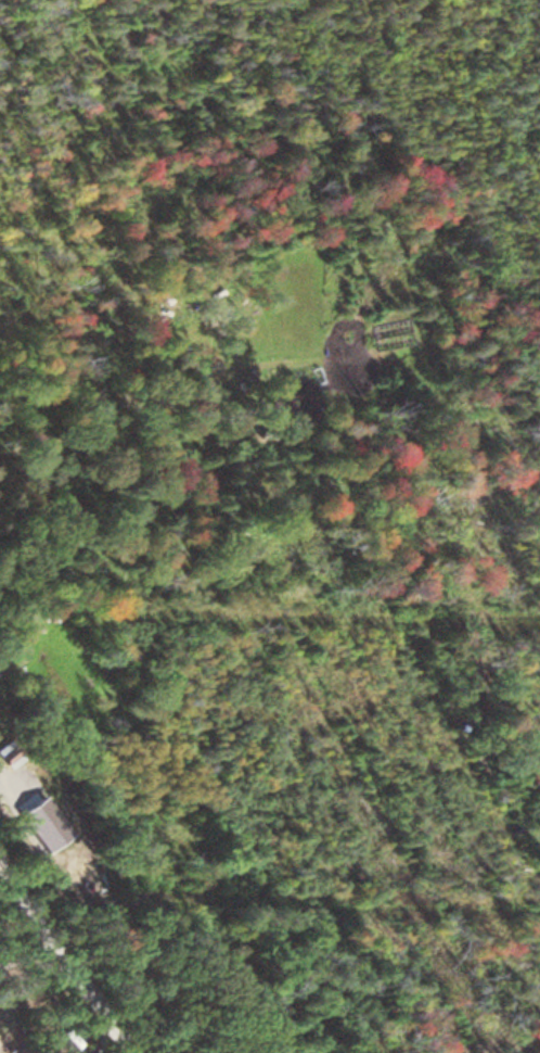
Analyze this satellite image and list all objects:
road: (64, 955)

